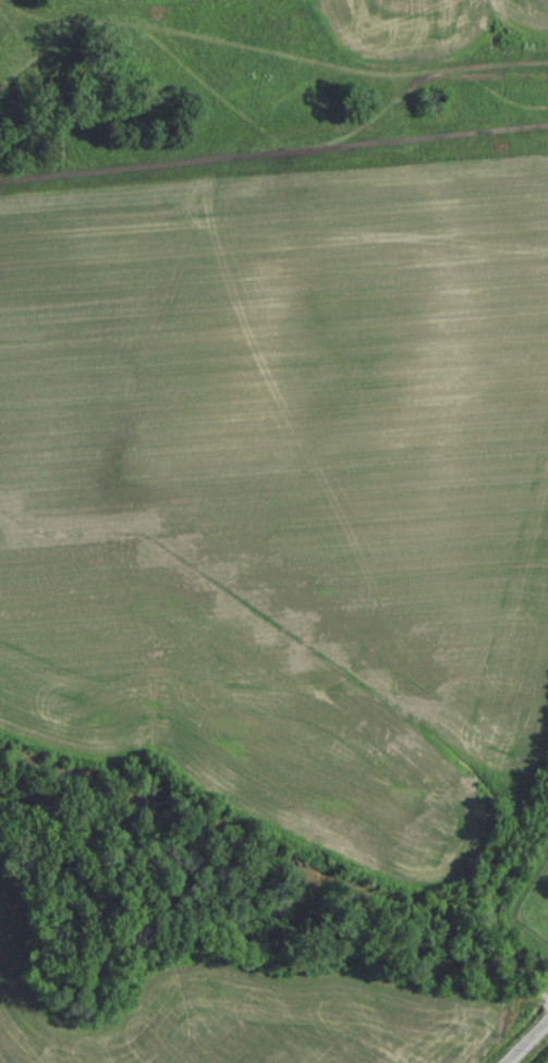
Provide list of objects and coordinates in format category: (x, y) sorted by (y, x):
road: (524, 1036)

